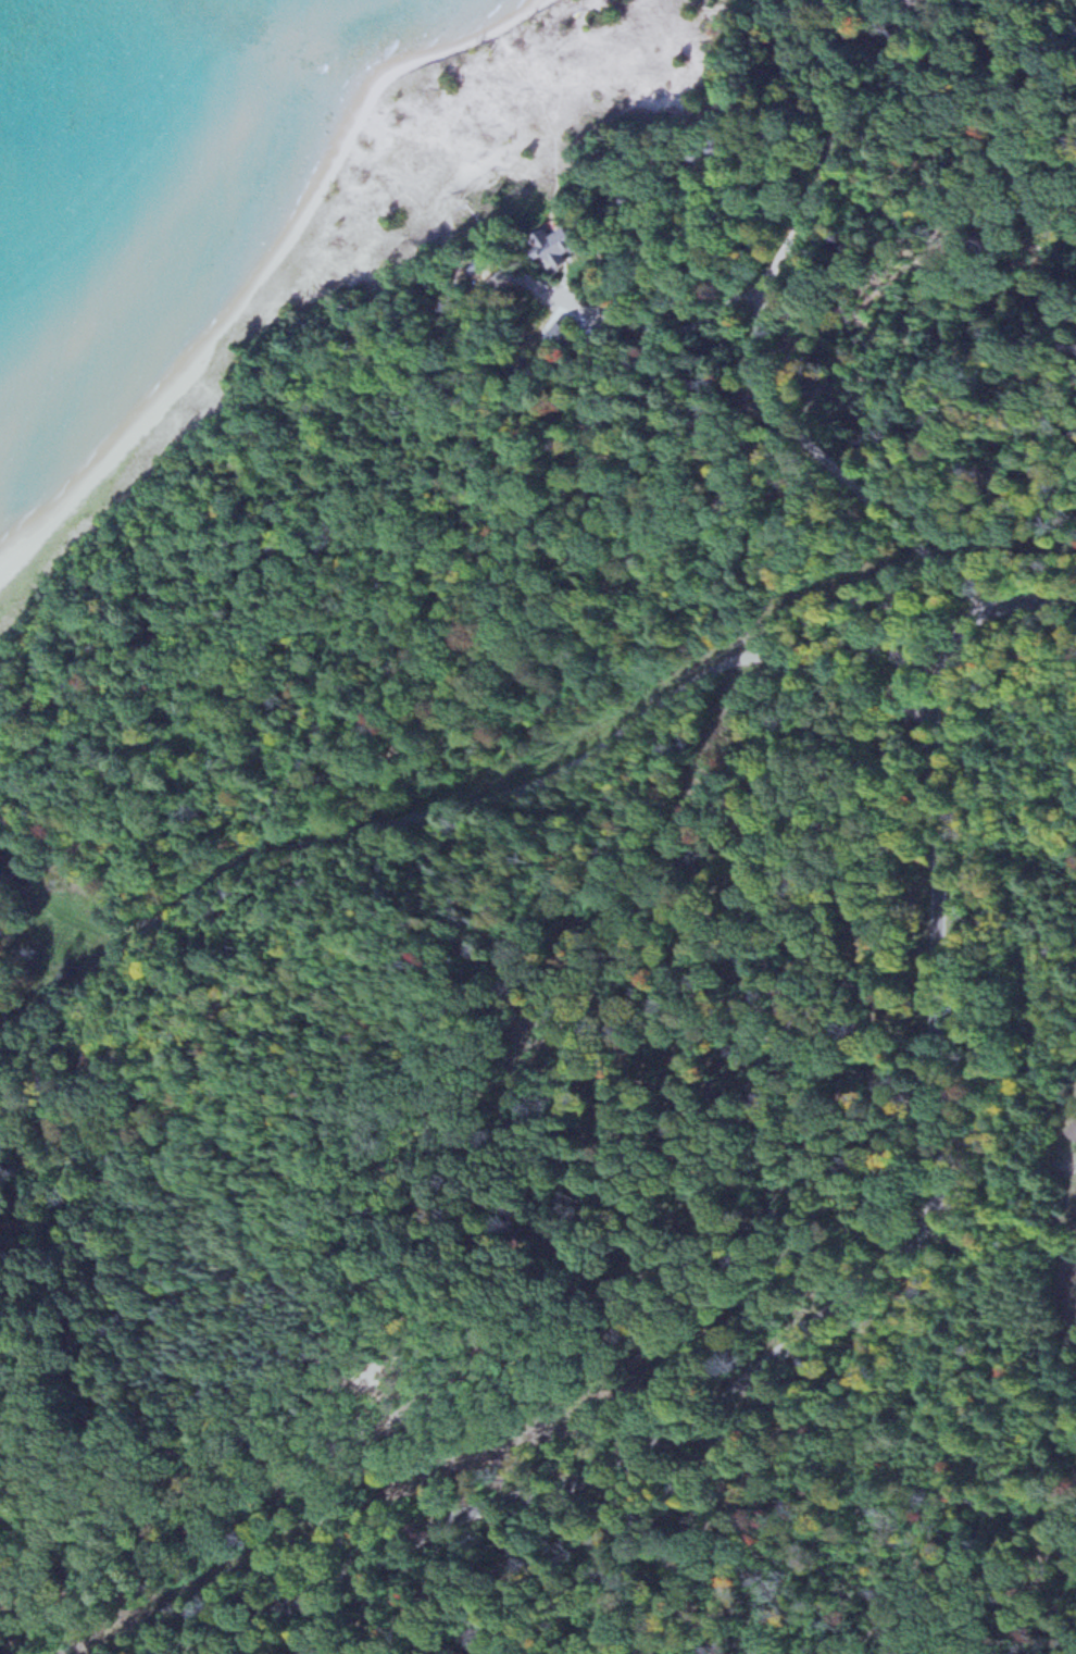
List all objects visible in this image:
road: (1034, 15)
road: (979, 17)
building: (560, 249)
road: (762, 321)
road: (673, 324)
road: (467, 808)
road: (73, 882)
building: (1072, 1131)
road: (1005, 1205)
road: (880, 1278)

